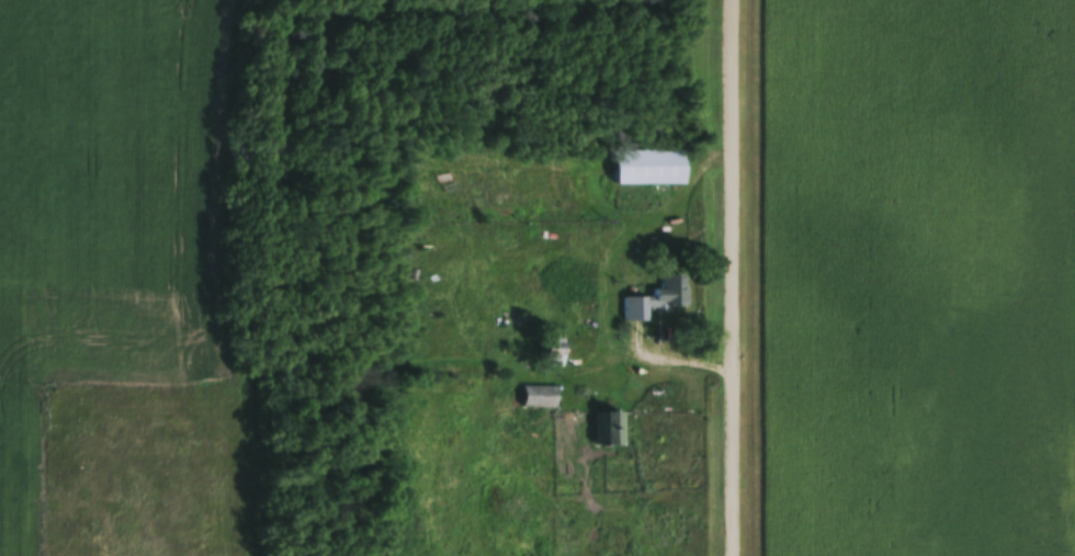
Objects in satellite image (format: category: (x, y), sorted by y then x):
building: (652, 170)
road: (734, 277)
road: (607, 279)
building: (656, 299)
building: (540, 399)
building: (608, 431)

